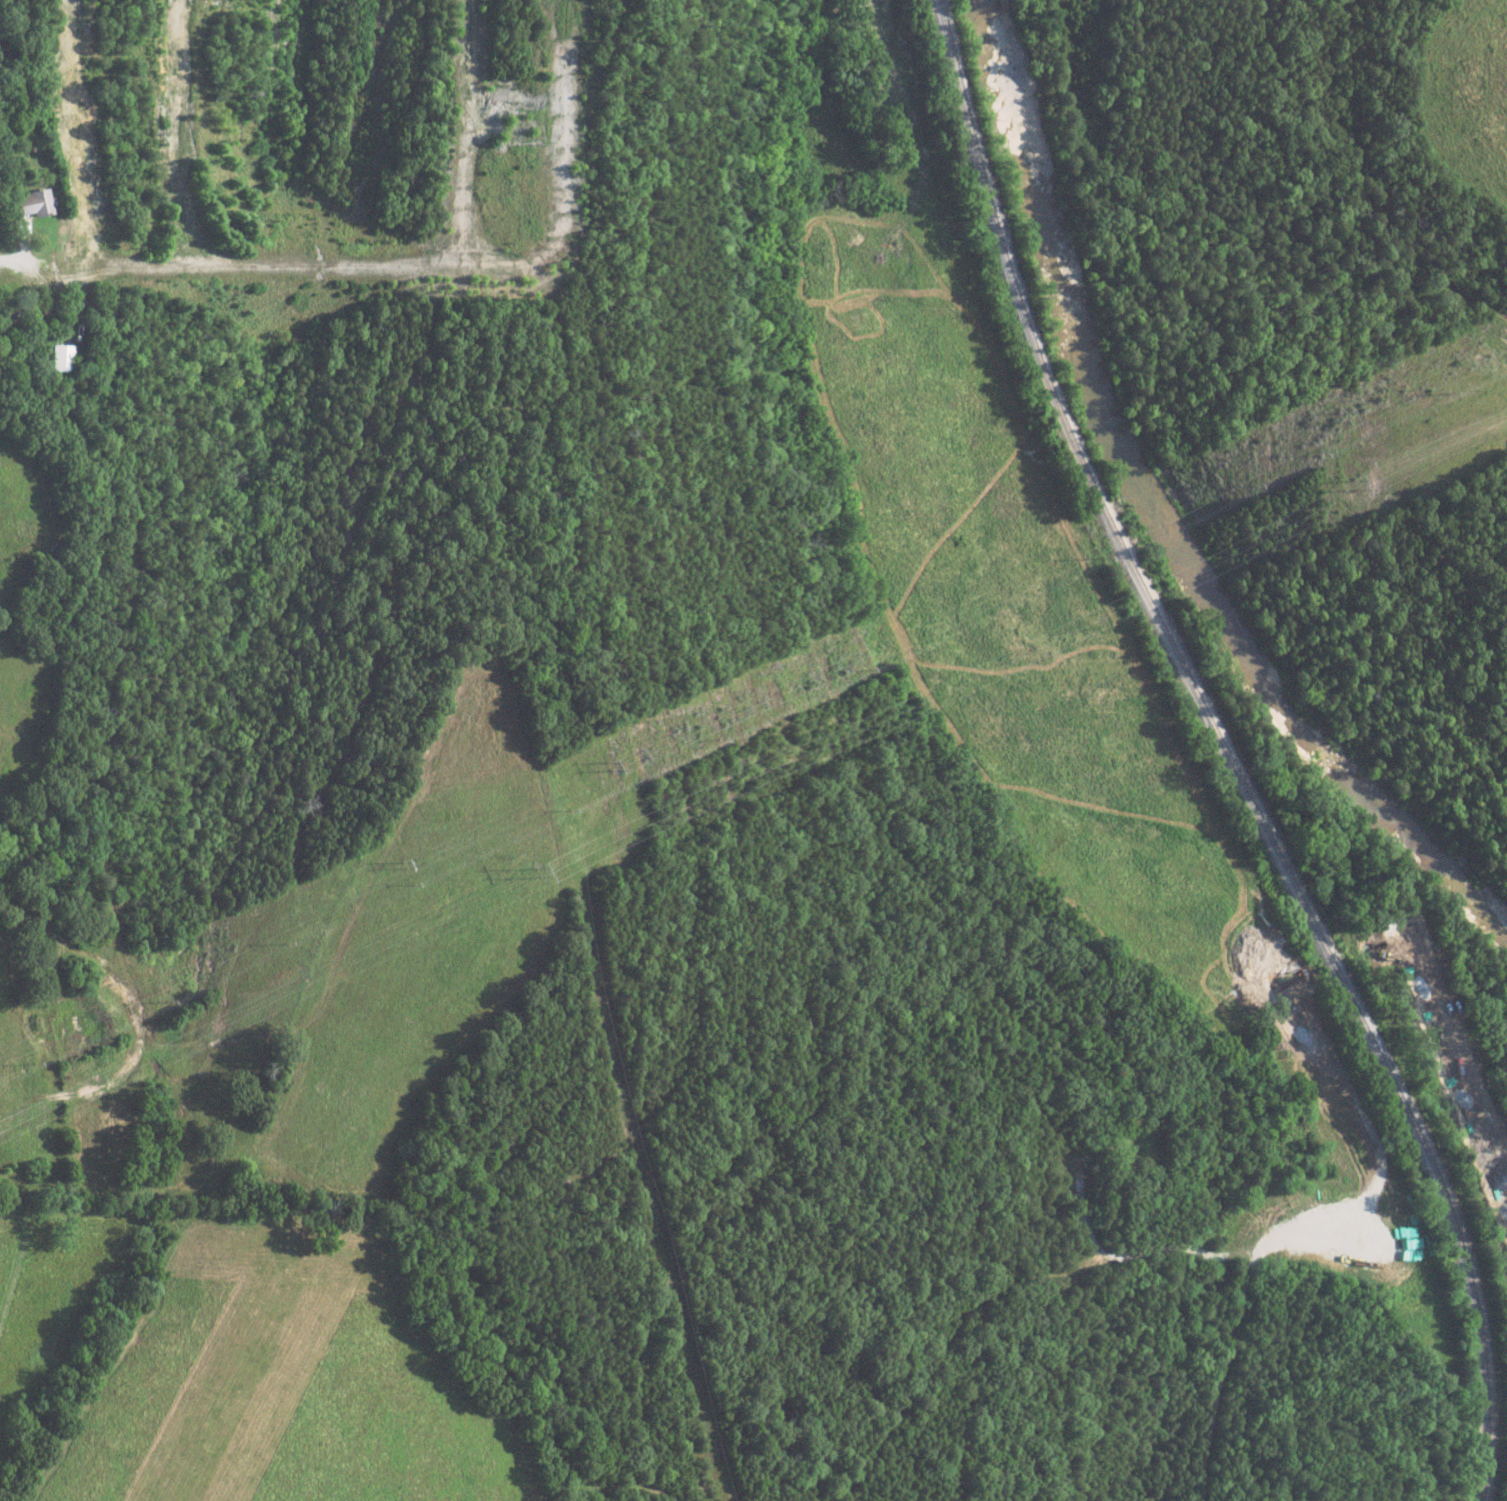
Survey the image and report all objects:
building: (32, 204)
road: (10, 254)
building: (59, 358)
power tower: (1348, 420)
power tower: (1353, 487)
railway: (1223, 751)
power tower: (609, 767)
power tower: (402, 865)
power tower: (533, 873)
park: (1138, 1119)

